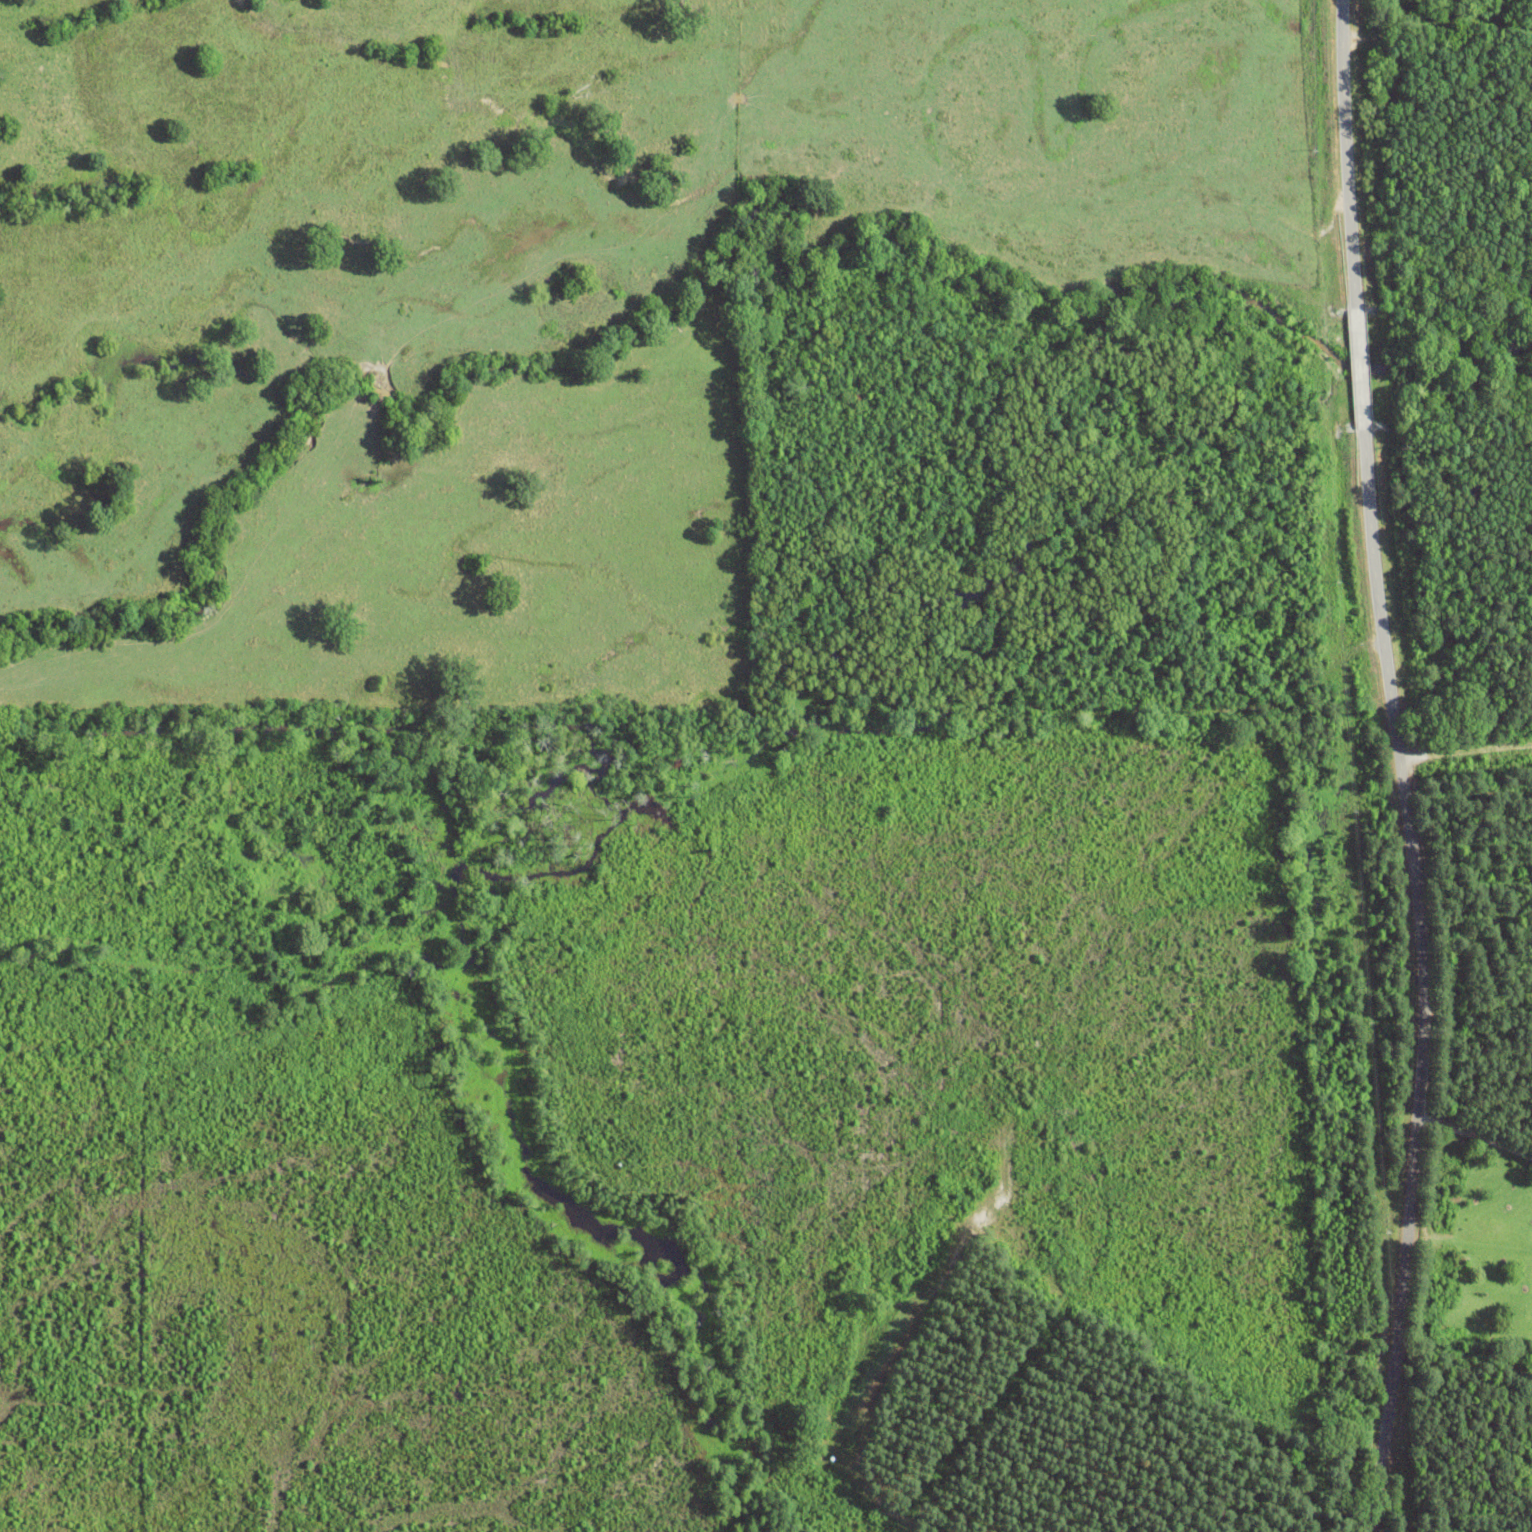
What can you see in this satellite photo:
road: (1403, 766)

